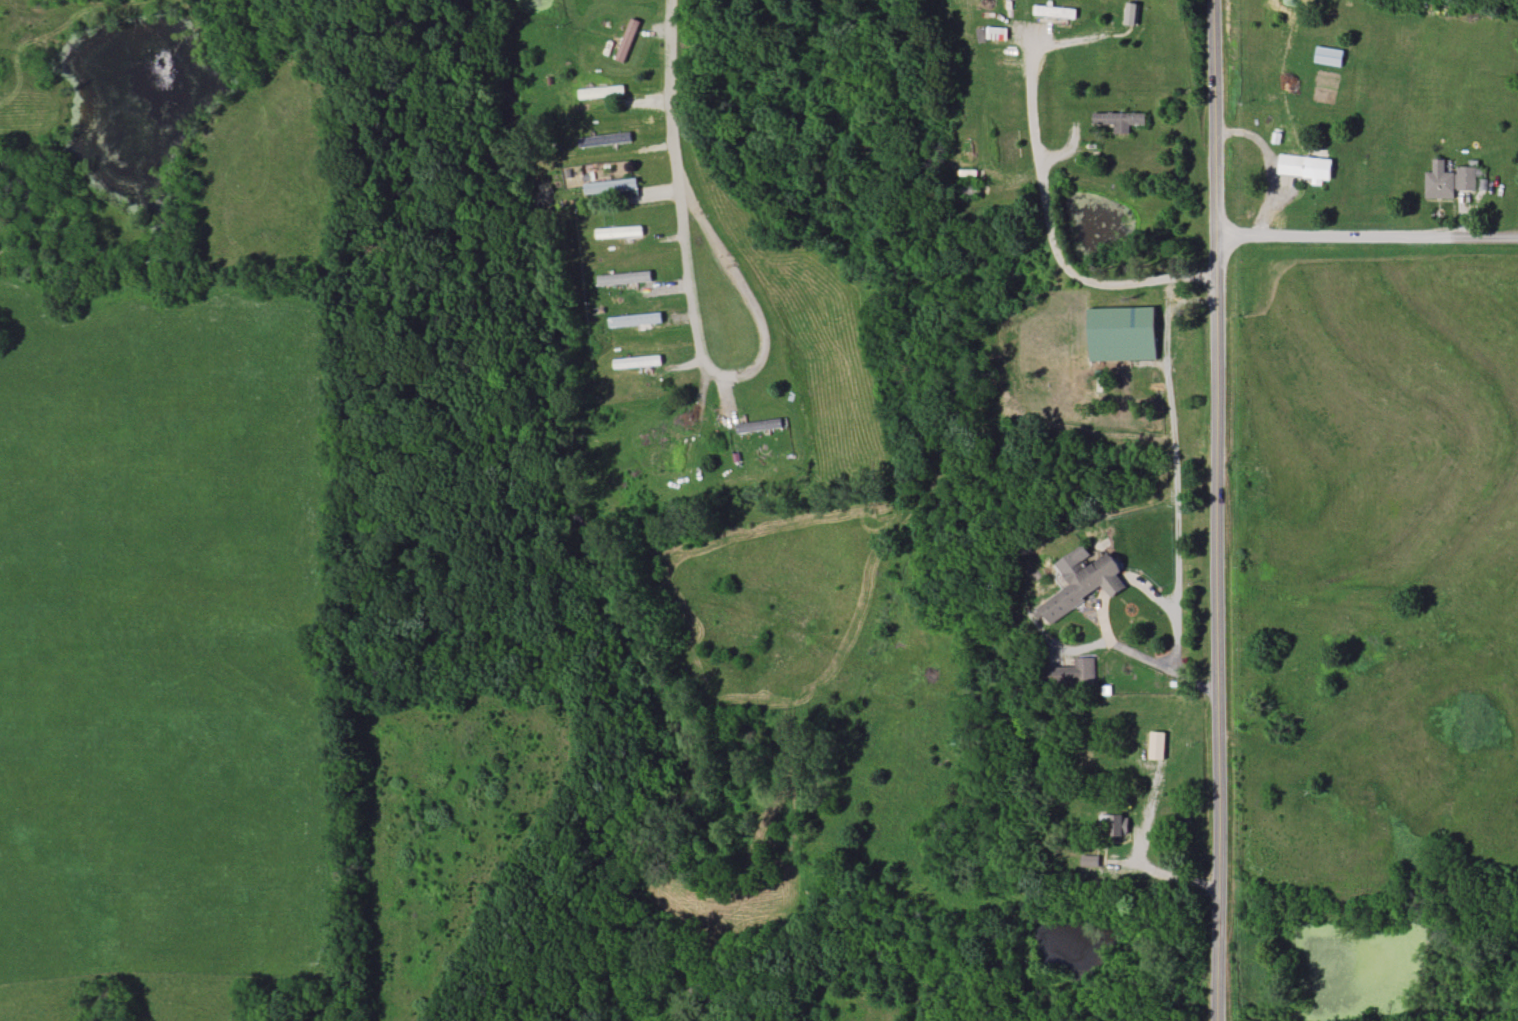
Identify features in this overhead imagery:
building: (1055, 13)
building: (1131, 15)
building: (627, 41)
building: (1329, 57)
building: (602, 92)
road: (675, 98)
building: (1119, 120)
building: (610, 139)
building: (1005, 144)
building: (1306, 167)
building: (1469, 177)
building: (1440, 181)
building: (611, 186)
road: (1047, 218)
road: (1367, 234)
building: (625, 278)
building: (635, 320)
building: (1122, 333)
road: (762, 356)
building: (757, 425)
road: (1172, 473)
road: (1217, 510)
building: (1083, 581)
road: (1164, 667)
building: (1071, 674)
building: (1090, 861)
road: (1159, 870)

